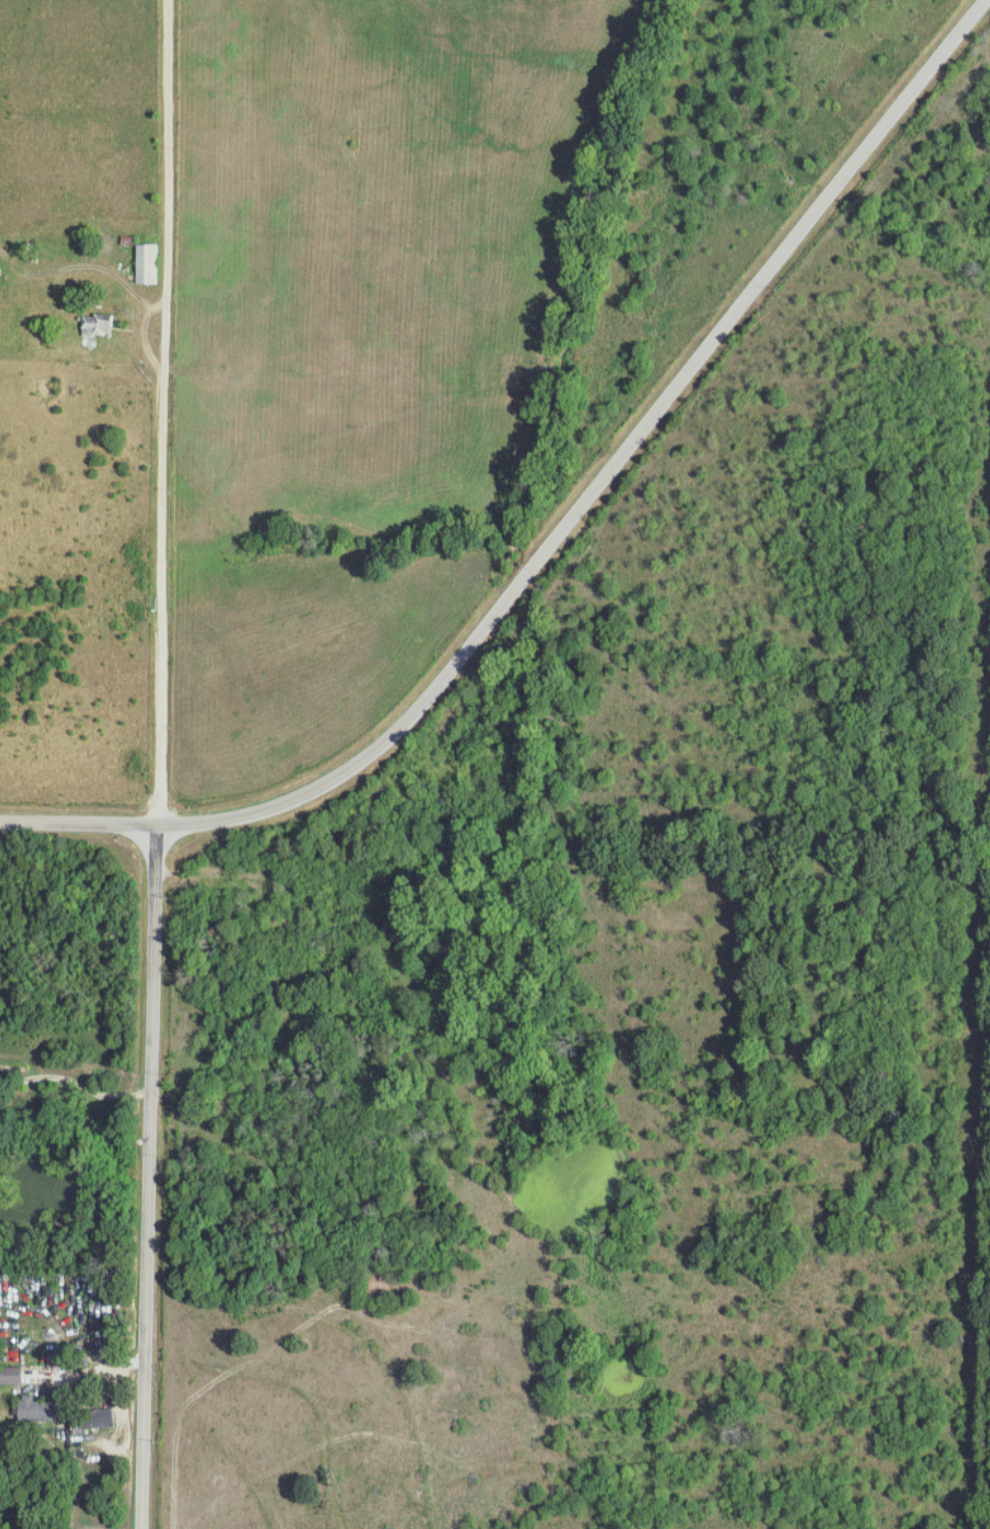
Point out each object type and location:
building: (150, 263)
building: (101, 324)
road: (161, 412)
road: (564, 535)
road: (76, 1086)
road: (152, 1177)
road: (84, 1373)
building: (13, 1375)
building: (39, 1409)
building: (98, 1422)

